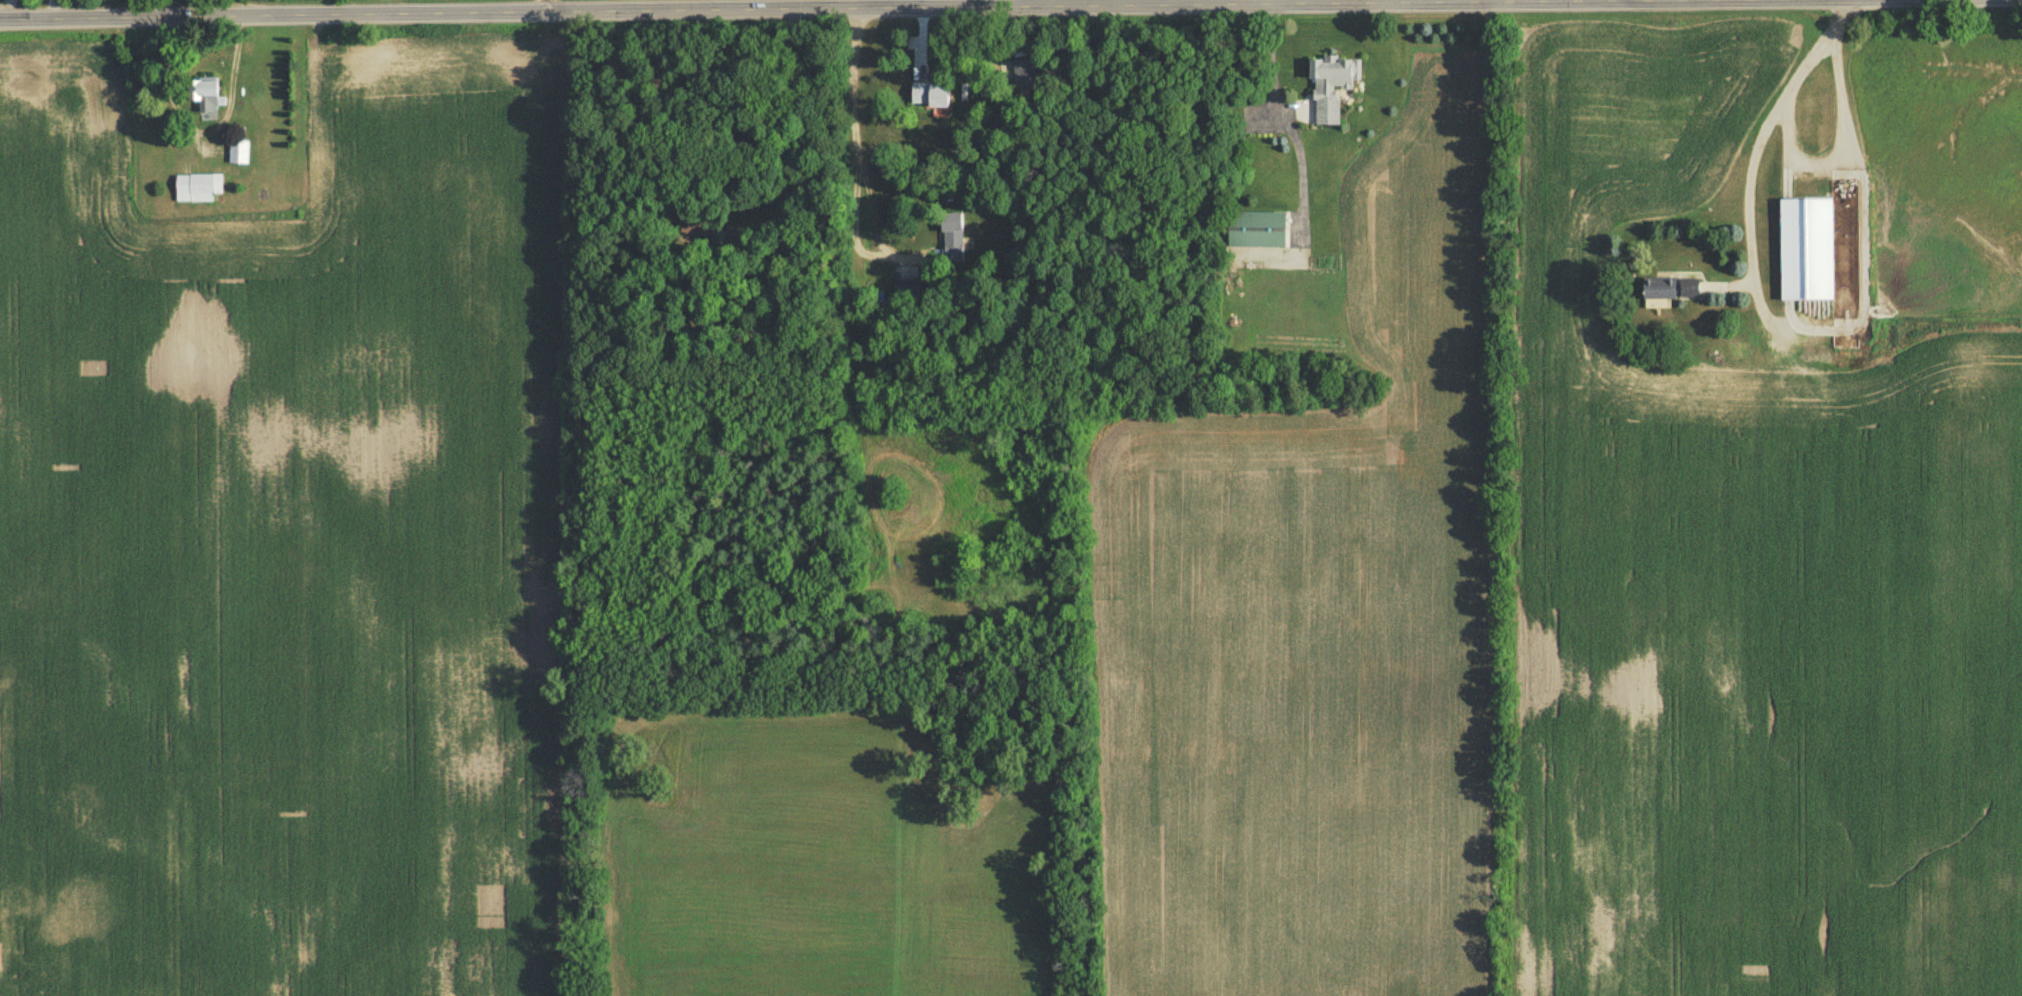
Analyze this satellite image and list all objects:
road: (807, 9)
building: (1332, 92)
building: (931, 97)
building: (209, 99)
road: (1770, 130)
road: (786, 132)
road: (1849, 149)
road: (850, 154)
building: (240, 155)
building: (208, 191)
building: (1260, 233)
building: (950, 245)
building: (1809, 254)
building: (1672, 295)
building: (871, 545)

